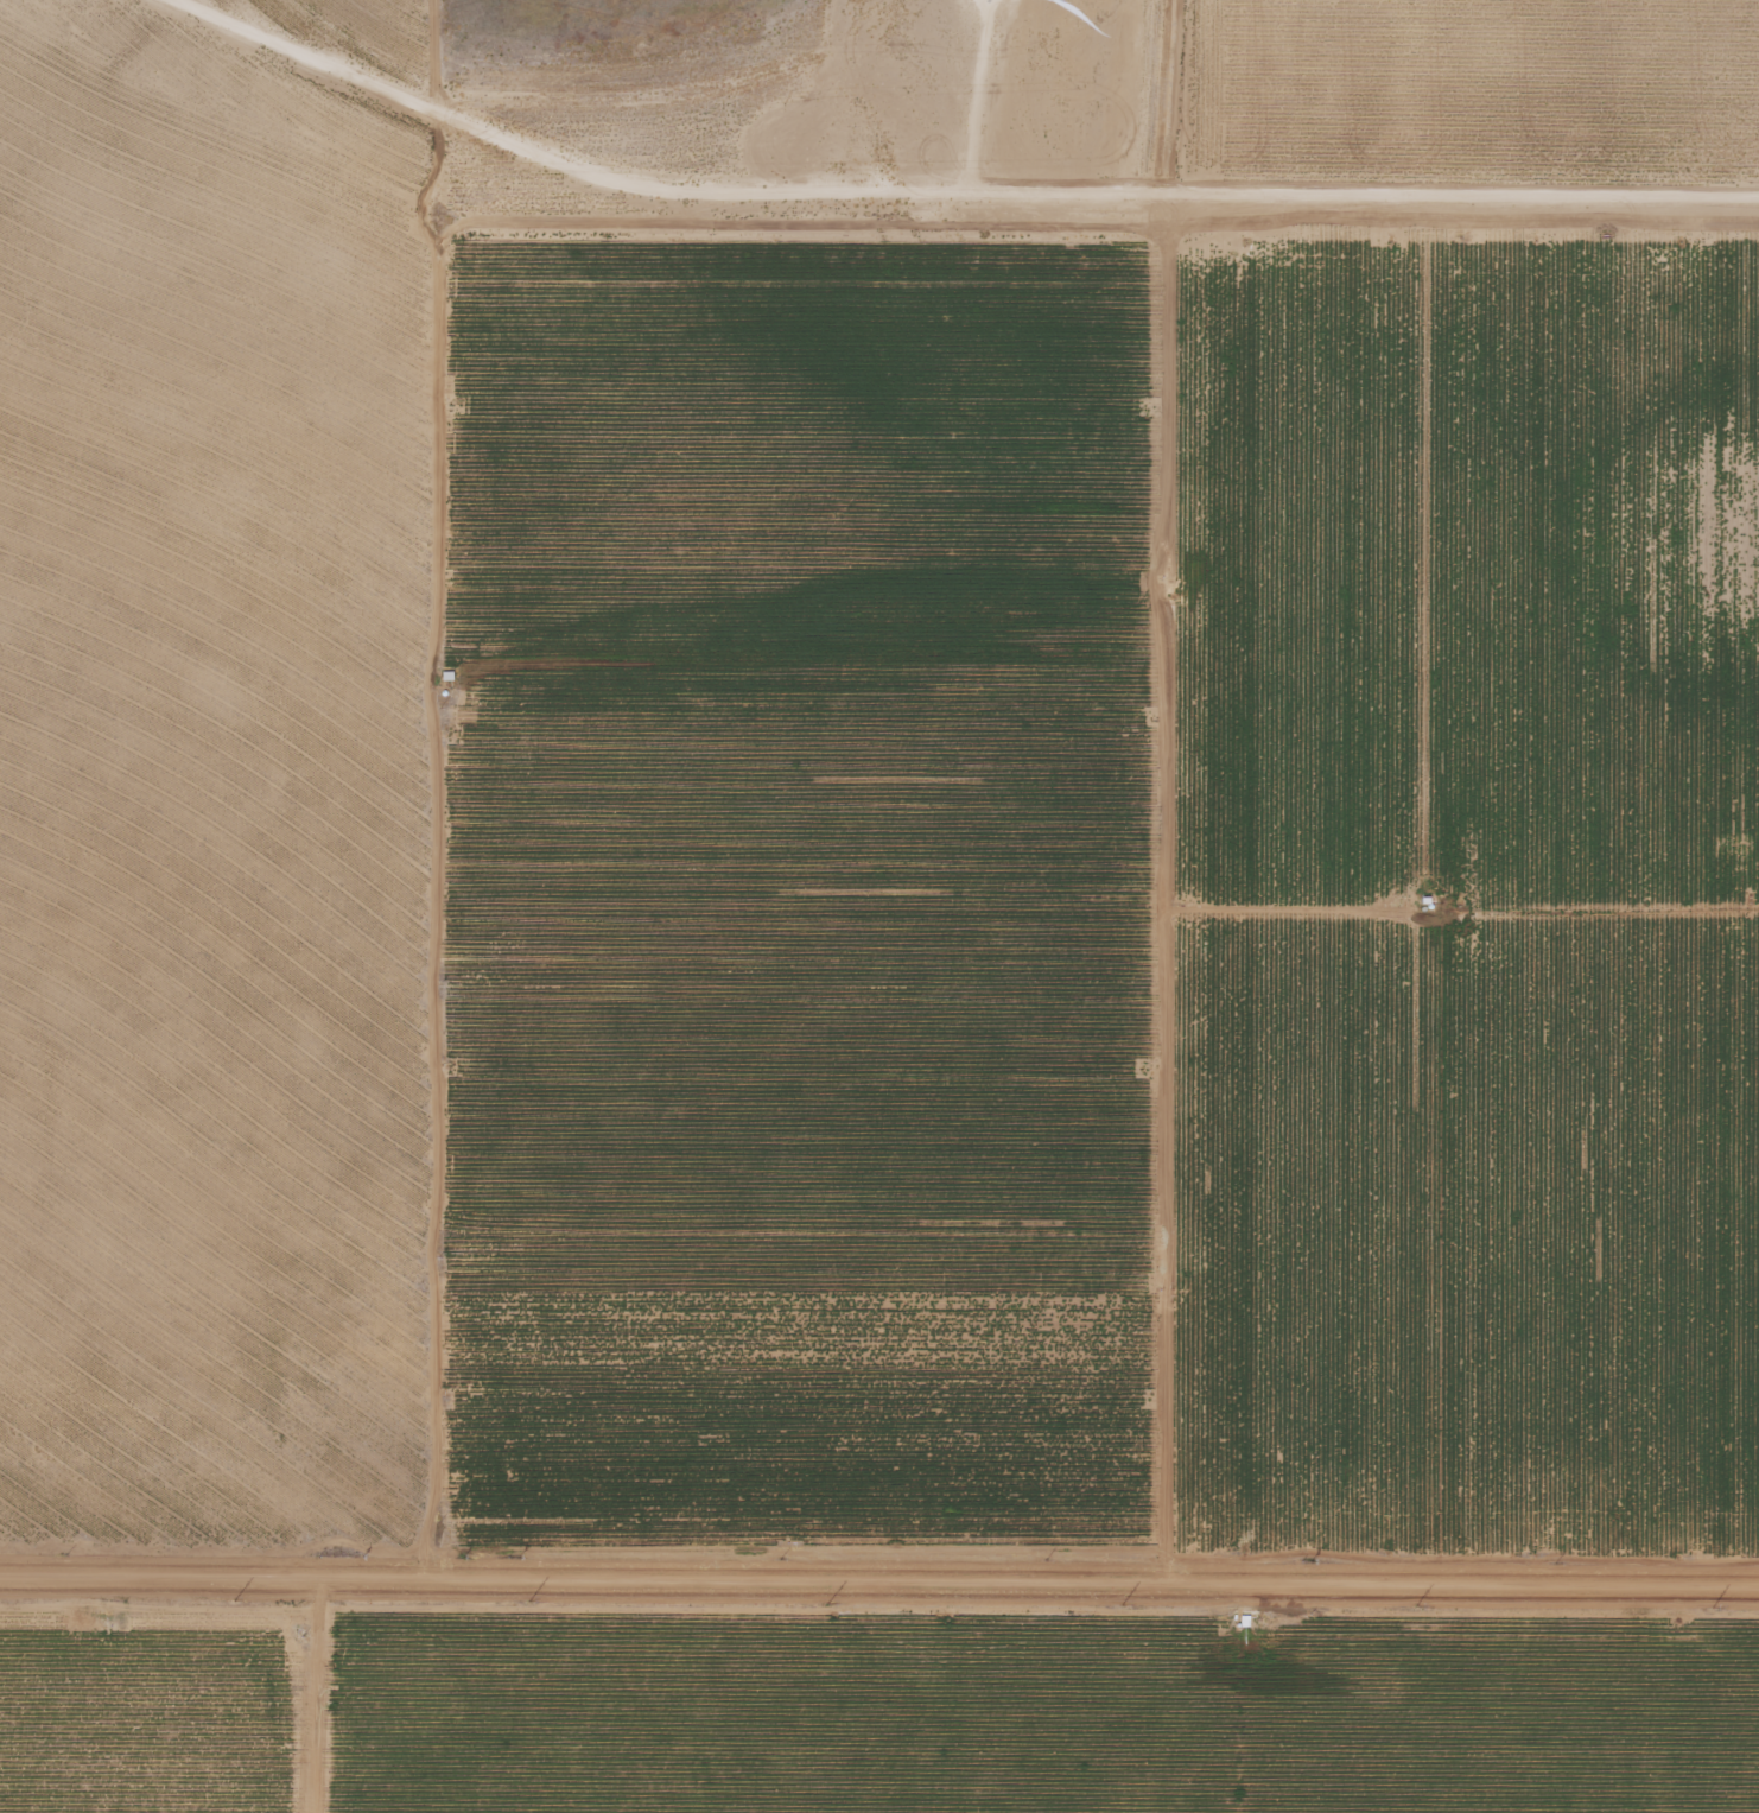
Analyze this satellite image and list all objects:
road: (878, 1590)

